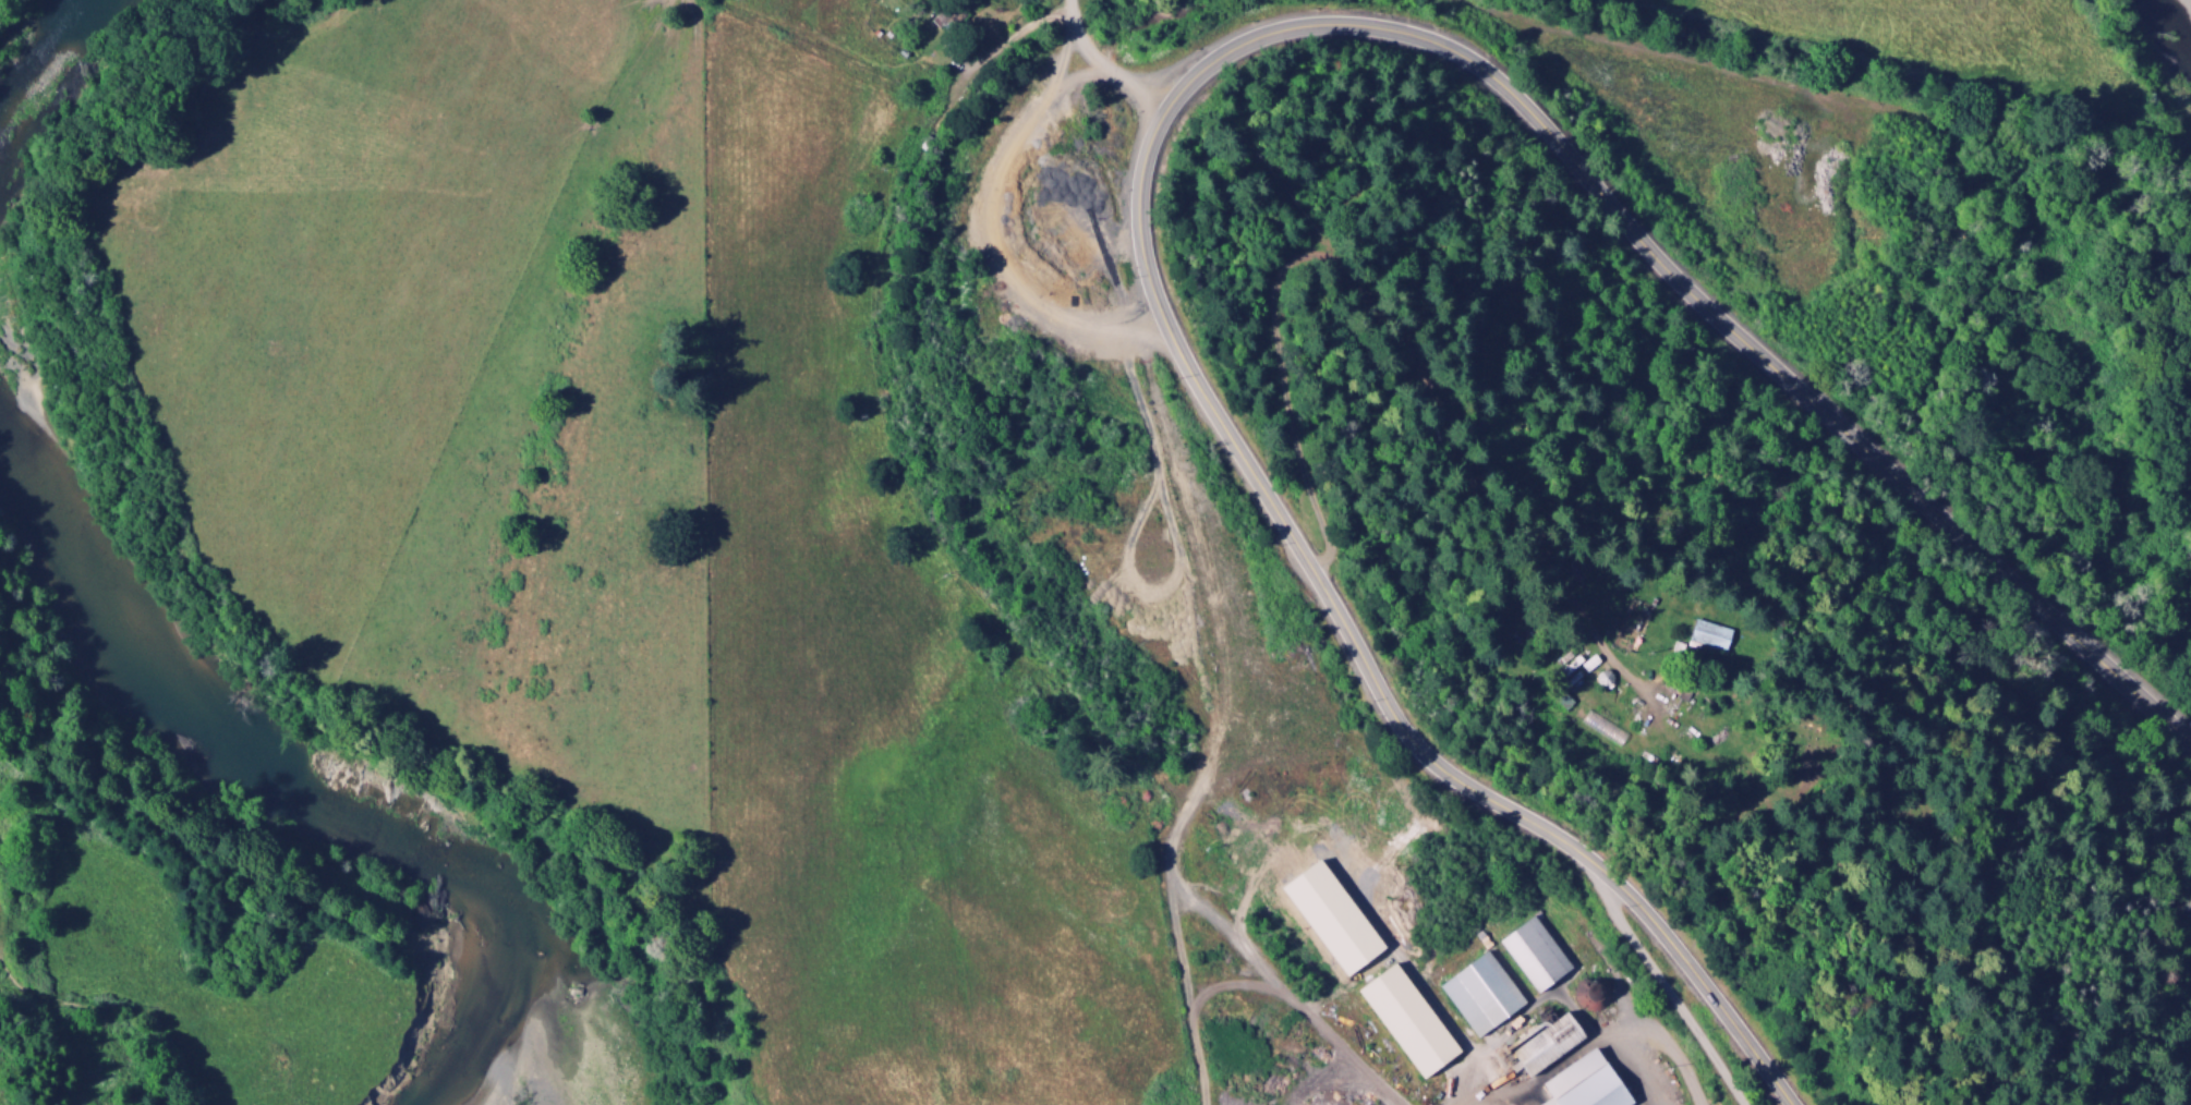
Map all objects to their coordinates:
river: (2179, 11)
river: (33, 57)
road: (1101, 64)
road: (1191, 78)
road: (1823, 97)
road: (891, 422)
road: (1399, 483)
road: (1206, 514)
building: (1708, 636)
road: (1550, 656)
building: (1571, 669)
road: (1635, 687)
crop: (1572, 700)
road: (1767, 715)
river: (286, 781)
road: (1173, 913)
building: (1528, 955)
railway: (1304, 962)
road: (1658, 975)
road: (1285, 993)
building: (1476, 994)
road: (69, 1005)
building: (1401, 1022)
road: (1642, 1030)
building: (1536, 1044)
building: (1577, 1083)

